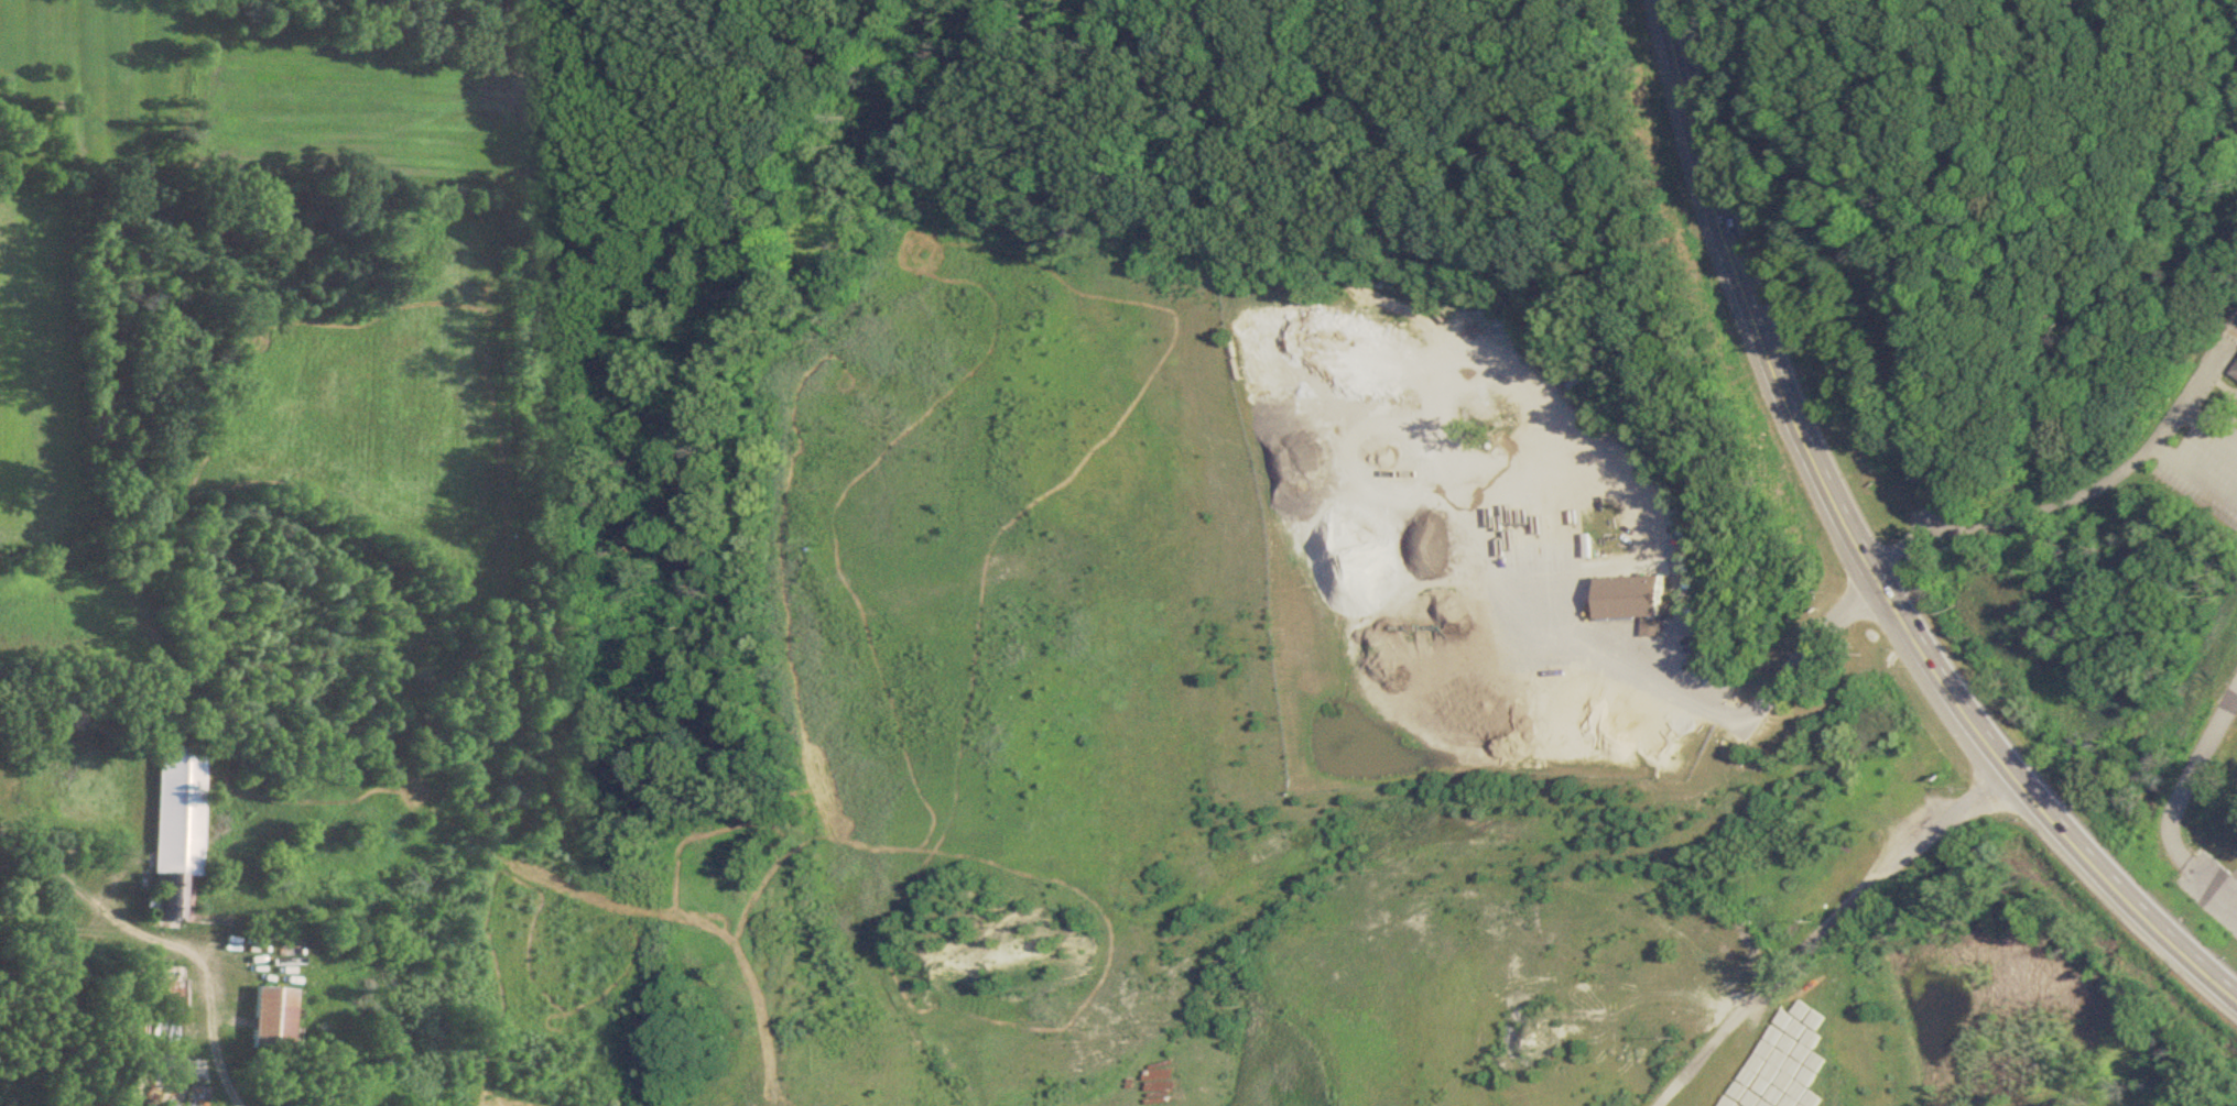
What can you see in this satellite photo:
road: (1950, 236)
road: (2085, 336)
building: (2234, 373)
park: (2017, 374)
road: (2211, 427)
parking lot: (2207, 464)
road: (2196, 472)
road: (2083, 499)
road: (1861, 548)
building: (1615, 599)
road: (1737, 716)
road: (2174, 808)
building: (174, 831)
road: (2235, 876)
parking lot: (2212, 889)
road: (1827, 927)
road: (175, 945)
building: (167, 994)
building: (268, 1021)

